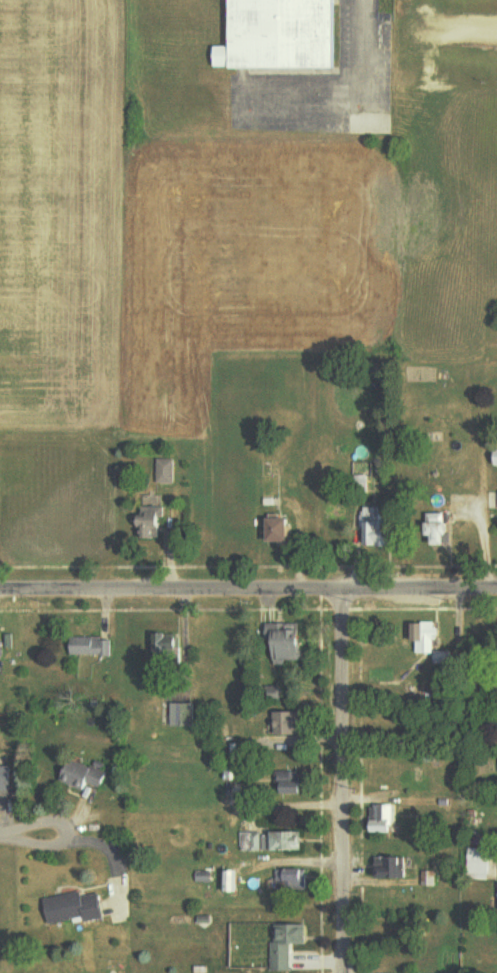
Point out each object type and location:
building: (284, 34)
crop: (160, 241)
building: (165, 470)
building: (152, 520)
building: (379, 528)
building: (441, 529)
building: (281, 530)
road: (248, 587)
building: (430, 642)
building: (288, 643)
building: (92, 646)
building: (1, 650)
building: (166, 653)
building: (183, 714)
building: (288, 723)
building: (84, 776)
building: (5, 778)
road: (339, 780)
building: (293, 784)
building: (383, 818)
road: (64, 830)
road: (5, 834)
building: (251, 841)
building: (283, 842)
building: (478, 864)
building: (391, 868)
building: (291, 879)
building: (231, 882)
building: (75, 907)
building: (286, 945)

